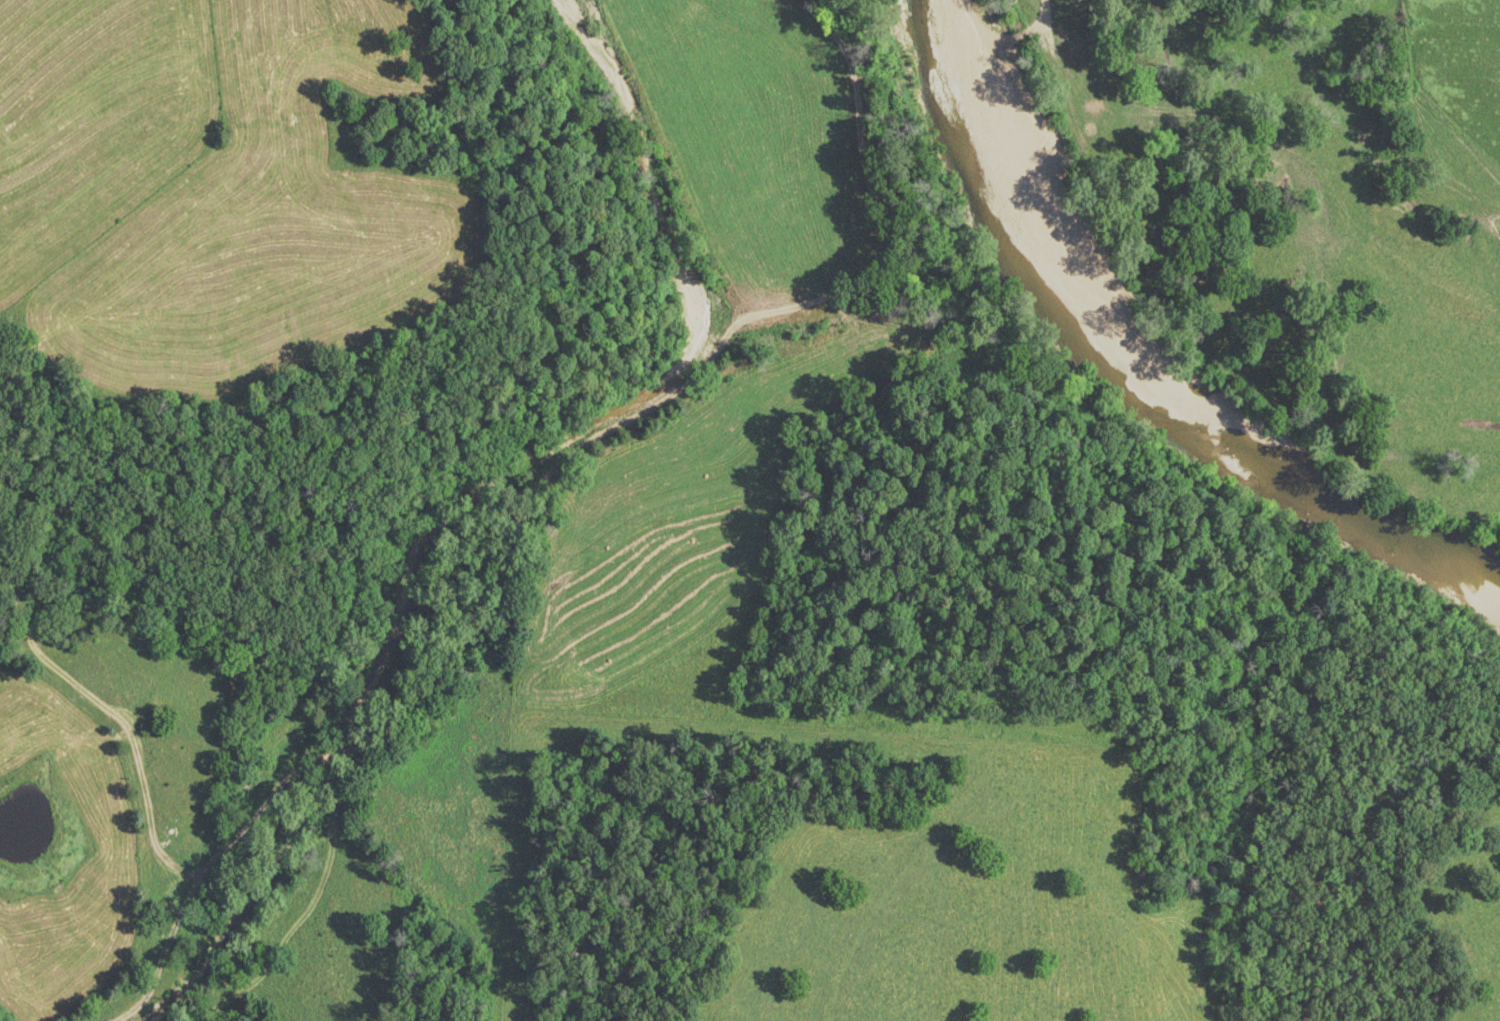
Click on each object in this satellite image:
river: (1120, 387)

